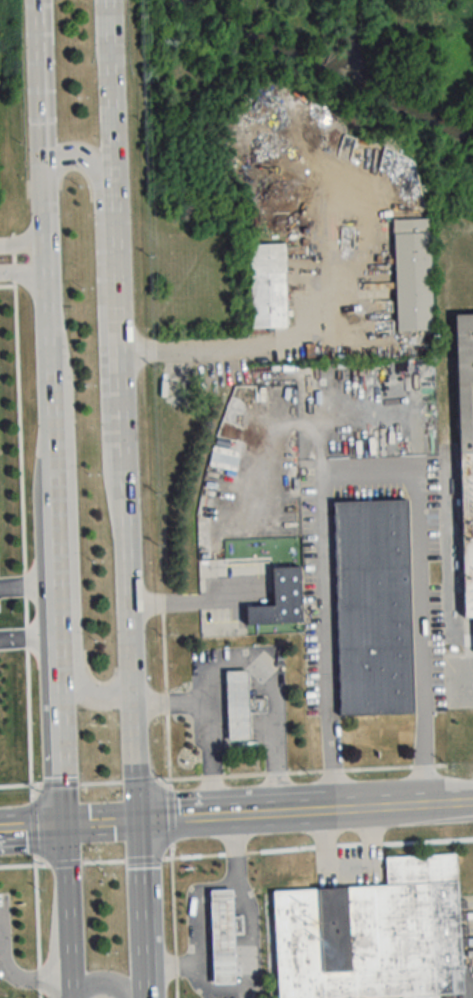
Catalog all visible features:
traffic signals: (42, 158)
road: (26, 240)
road: (12, 265)
building: (410, 275)
road: (28, 281)
building: (269, 284)
road: (45, 302)
road: (101, 318)
road: (252, 345)
building: (463, 384)
road: (120, 412)
road: (367, 478)
road: (69, 520)
road: (36, 584)
building: (280, 599)
road: (194, 600)
building: (371, 607)
road: (28, 637)
road: (257, 661)
road: (471, 681)
building: (236, 703)
road: (61, 716)
road: (210, 760)
road: (397, 808)
road: (302, 814)
road: (247, 817)
road: (175, 821)
traffic signals: (137, 824)
road: (101, 826)
traffic signals: (66, 828)
road: (33, 829)
road: (199, 905)
road: (69, 906)
road: (140, 911)
building: (221, 935)
building: (372, 935)
road: (251, 969)
road: (13, 970)
road: (101, 982)
road: (72, 991)

